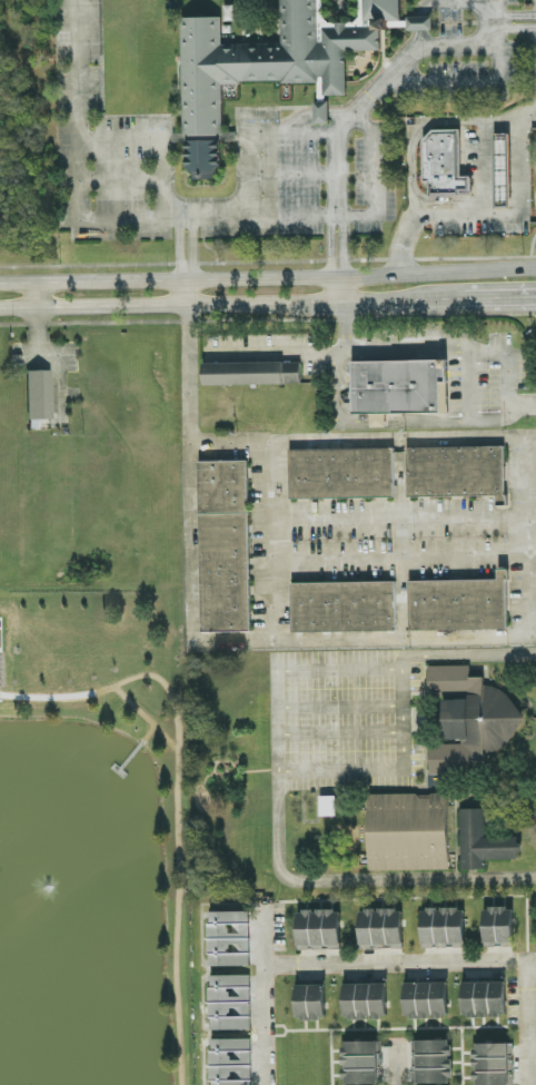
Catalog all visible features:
road: (488, 9)
road: (519, 13)
building: (419, 23)
road: (519, 29)
building: (271, 62)
road: (473, 81)
road: (361, 103)
building: (321, 112)
road: (252, 134)
road: (159, 141)
building: (445, 164)
building: (503, 171)
road: (121, 179)
road: (479, 208)
road: (176, 221)
road: (187, 250)
road: (268, 278)
road: (345, 290)
road: (188, 293)
road: (39, 296)
road: (500, 299)
road: (448, 300)
road: (367, 303)
road: (151, 305)
road: (40, 331)
road: (438, 351)
road: (281, 356)
building: (252, 374)
building: (400, 387)
building: (39, 395)
road: (339, 397)
road: (455, 422)
road: (378, 423)
road: (405, 441)
road: (236, 445)
building: (400, 464)
building: (457, 473)
building: (341, 474)
road: (196, 510)
road: (406, 524)
road: (276, 542)
building: (225, 546)
road: (406, 559)
road: (535, 592)
building: (459, 605)
building: (344, 608)
road: (535, 629)
road: (407, 637)
road: (468, 657)
road: (339, 660)
park: (92, 706)
road: (277, 717)
road: (143, 720)
building: (470, 721)
road: (147, 736)
pier: (129, 757)
road: (397, 770)
pier: (116, 771)
road: (175, 798)
building: (328, 807)
building: (409, 832)
building: (483, 842)
road: (356, 881)
fountain: (29, 894)
building: (499, 926)
building: (444, 928)
building: (320, 929)
building: (381, 929)
building: (229, 939)
road: (399, 964)
road: (265, 994)
building: (485, 999)
building: (427, 1000)
building: (311, 1002)
building: (366, 1002)
building: (230, 1003)
road: (526, 1024)
building: (231, 1062)
building: (435, 1062)
building: (363, 1063)
road: (397, 1064)
building: (493, 1064)

